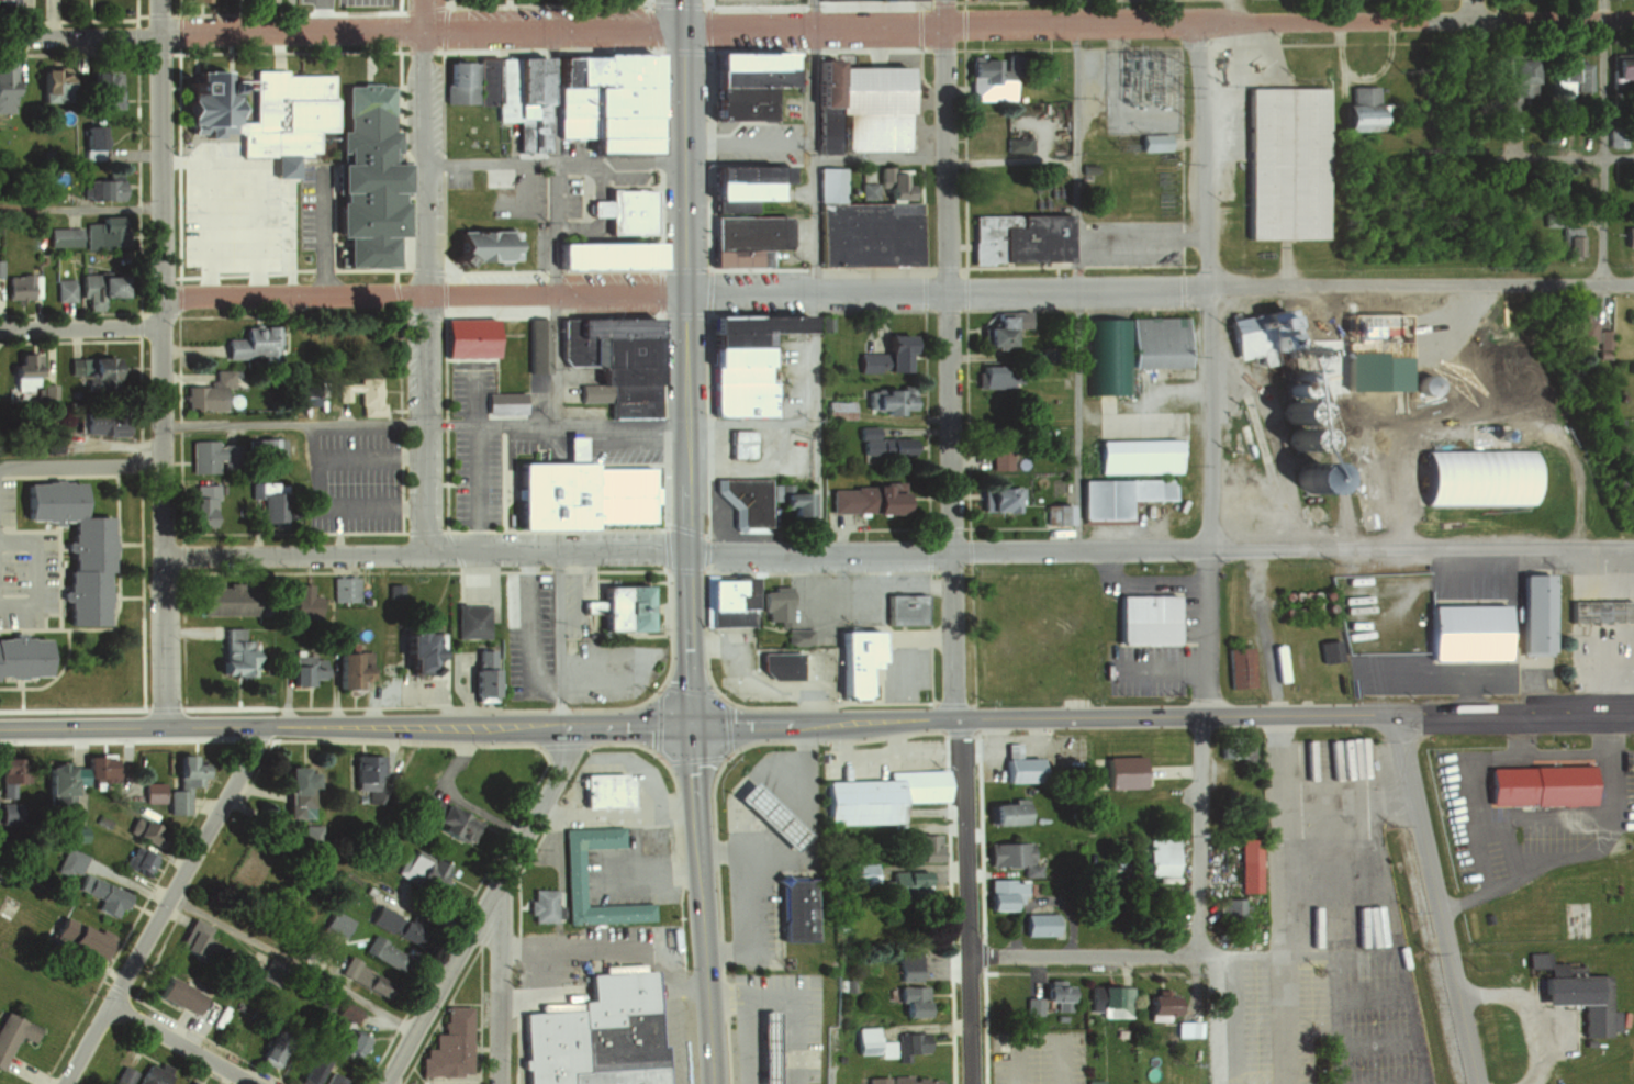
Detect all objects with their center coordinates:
building: (197, 0)
building: (849, 0)
road: (649, 1)
building: (749, 1)
parking lot: (345, 2)
road: (449, 4)
road: (546, 5)
road: (1340, 11)
road: (1470, 11)
road: (157, 12)
road: (401, 12)
road: (1055, 12)
road: (1169, 12)
road: (318, 13)
road: (421, 13)
road: (944, 13)
road: (288, 14)
road: (1157, 24)
road: (340, 26)
road: (289, 53)
building: (988, 66)
building: (1620, 66)
building: (1049, 74)
road: (1365, 76)
building: (1569, 77)
building: (741, 80)
building: (48, 86)
building: (865, 86)
building: (1511, 87)
building: (101, 88)
road: (975, 88)
building: (5, 90)
power substation: (1143, 90)
building: (501, 93)
building: (199, 102)
building: (600, 102)
building: (1362, 108)
building: (280, 114)
building: (869, 131)
building: (1016, 142)
road: (1602, 142)
building: (93, 143)
road: (1202, 155)
road: (1619, 156)
road: (158, 159)
road: (878, 161)
road: (552, 163)
building: (1285, 164)
building: (1086, 166)
building: (362, 176)
building: (892, 180)
building: (831, 187)
building: (101, 188)
building: (865, 188)
road: (79, 209)
parking lot: (234, 209)
building: (468, 209)
building: (631, 210)
parking lot: (315, 212)
building: (745, 216)
building: (103, 234)
road: (327, 235)
building: (869, 235)
building: (1626, 235)
building: (64, 237)
building: (1022, 239)
building: (480, 244)
building: (598, 254)
road: (1075, 275)
road: (816, 277)
road: (1421, 284)
building: (21, 287)
building: (97, 289)
building: (64, 290)
road: (422, 290)
road: (947, 291)
road: (422, 297)
road: (159, 310)
building: (999, 325)
road: (79, 326)
building: (1582, 328)
building: (1253, 329)
building: (461, 335)
building: (246, 343)
building: (1509, 343)
building: (536, 344)
building: (1059, 348)
building: (1126, 349)
building: (1042, 354)
building: (885, 355)
building: (612, 357)
road: (684, 362)
building: (740, 362)
building: (1515, 362)
building: (21, 372)
building: (92, 372)
road: (948, 372)
building: (1285, 372)
building: (992, 375)
parking lot: (465, 384)
building: (1426, 384)
building: (1289, 385)
building: (208, 392)
building: (303, 393)
building: (361, 394)
parking lot: (536, 395)
building: (883, 399)
building: (502, 402)
building: (838, 407)
building: (1295, 410)
road: (1209, 418)
road: (553, 421)
road: (292, 422)
building: (115, 423)
road: (916, 427)
building: (865, 428)
building: (1047, 428)
building: (1300, 434)
parking lot: (533, 442)
building: (737, 442)
building: (994, 443)
building: (885, 444)
parking lot: (620, 445)
building: (266, 448)
building: (213, 451)
building: (1134, 454)
road: (366, 458)
road: (80, 459)
building: (1471, 474)
building: (1308, 476)
parking lot: (470, 477)
parking lot: (349, 478)
road: (481, 488)
building: (1064, 488)
building: (575, 492)
building: (1116, 492)
building: (865, 495)
building: (995, 495)
building: (757, 496)
building: (270, 505)
road: (322, 509)
building: (1054, 512)
building: (197, 513)
road: (161, 525)
road: (839, 534)
road: (1054, 537)
building: (100, 547)
road: (1422, 549)
road: (947, 552)
road: (423, 556)
road: (42, 577)
road: (1149, 580)
building: (346, 589)
building: (394, 591)
building: (93, 597)
building: (728, 599)
building: (230, 601)
building: (306, 603)
building: (773, 604)
building: (620, 605)
building: (900, 606)
building: (1597, 608)
building: (1531, 611)
building: (1143, 615)
building: (475, 621)
parking lot: (526, 626)
building: (1462, 629)
road: (1266, 632)
road: (1206, 633)
building: (795, 635)
road: (526, 636)
road: (560, 640)
building: (1328, 648)
building: (244, 649)
building: (415, 651)
building: (30, 658)
building: (1276, 659)
building: (774, 661)
building: (855, 663)
road: (1162, 664)
building: (1238, 664)
building: (1, 667)
parking lot: (1146, 669)
building: (313, 670)
building: (356, 670)
building: (489, 673)
building: (479, 685)
road: (1575, 711)
road: (1103, 716)
road: (659, 723)
traffic signals: (691, 725)
road: (345, 726)
road: (728, 729)
building: (1229, 747)
road: (1562, 753)
building: (107, 767)
road: (798, 768)
building: (1019, 769)
building: (197, 770)
building: (366, 771)
building: (13, 774)
building: (292, 781)
building: (1541, 786)
building: (66, 789)
building: (602, 789)
building: (158, 792)
building: (880, 794)
building: (183, 800)
building: (434, 808)
gas station: (766, 812)
building: (1006, 812)
road: (1571, 813)
building: (13, 814)
building: (764, 814)
road: (772, 818)
parking lot: (1526, 820)
building: (462, 823)
road: (1480, 828)
building: (138, 830)
building: (153, 832)
road: (1200, 832)
building: (312, 836)
building: (650, 838)
building: (924, 846)
road: (734, 847)
building: (1010, 856)
building: (1160, 857)
building: (146, 861)
building: (75, 863)
building: (427, 869)
building: (861, 873)
building: (569, 875)
building: (908, 881)
building: (1004, 893)
building: (110, 895)
road: (1435, 897)
road: (1279, 898)
road: (966, 901)
road: (161, 904)
road: (700, 904)
building: (538, 905)
building: (4, 907)
road: (488, 908)
building: (1230, 908)
road: (745, 909)
building: (797, 910)
building: (1039, 924)
building: (340, 925)
building: (412, 928)
building: (918, 928)
building: (89, 939)
building: (189, 945)
building: (389, 952)
road: (1086, 956)
road: (1240, 956)
road: (292, 962)
building: (908, 964)
building: (273, 973)
building: (377, 977)
building: (1567, 987)
road: (503, 993)
building: (188, 994)
building: (1051, 998)
building: (1110, 999)
building: (911, 1001)
building: (1159, 1002)
building: (316, 1008)
building: (348, 1013)
road: (1529, 1013)
parking lot: (1240, 1014)
road: (1233, 1020)
parking lot: (1359, 1021)
building: (1186, 1029)
building: (595, 1032)
building: (15, 1036)
building: (349, 1042)
building: (869, 1042)
road: (182, 1043)
building: (909, 1043)
building: (450, 1047)
building: (761, 1047)
building: (280, 1049)
gas station: (766, 1049)
parking lot: (1038, 1057)
building: (1452, 1058)
building: (310, 1073)
building: (157, 1075)
building: (126, 1076)
building: (875, 1080)
building: (913, 1080)
building: (334, 1081)
building: (189, 1082)
building: (195, 1082)
building: (1093, 1082)

